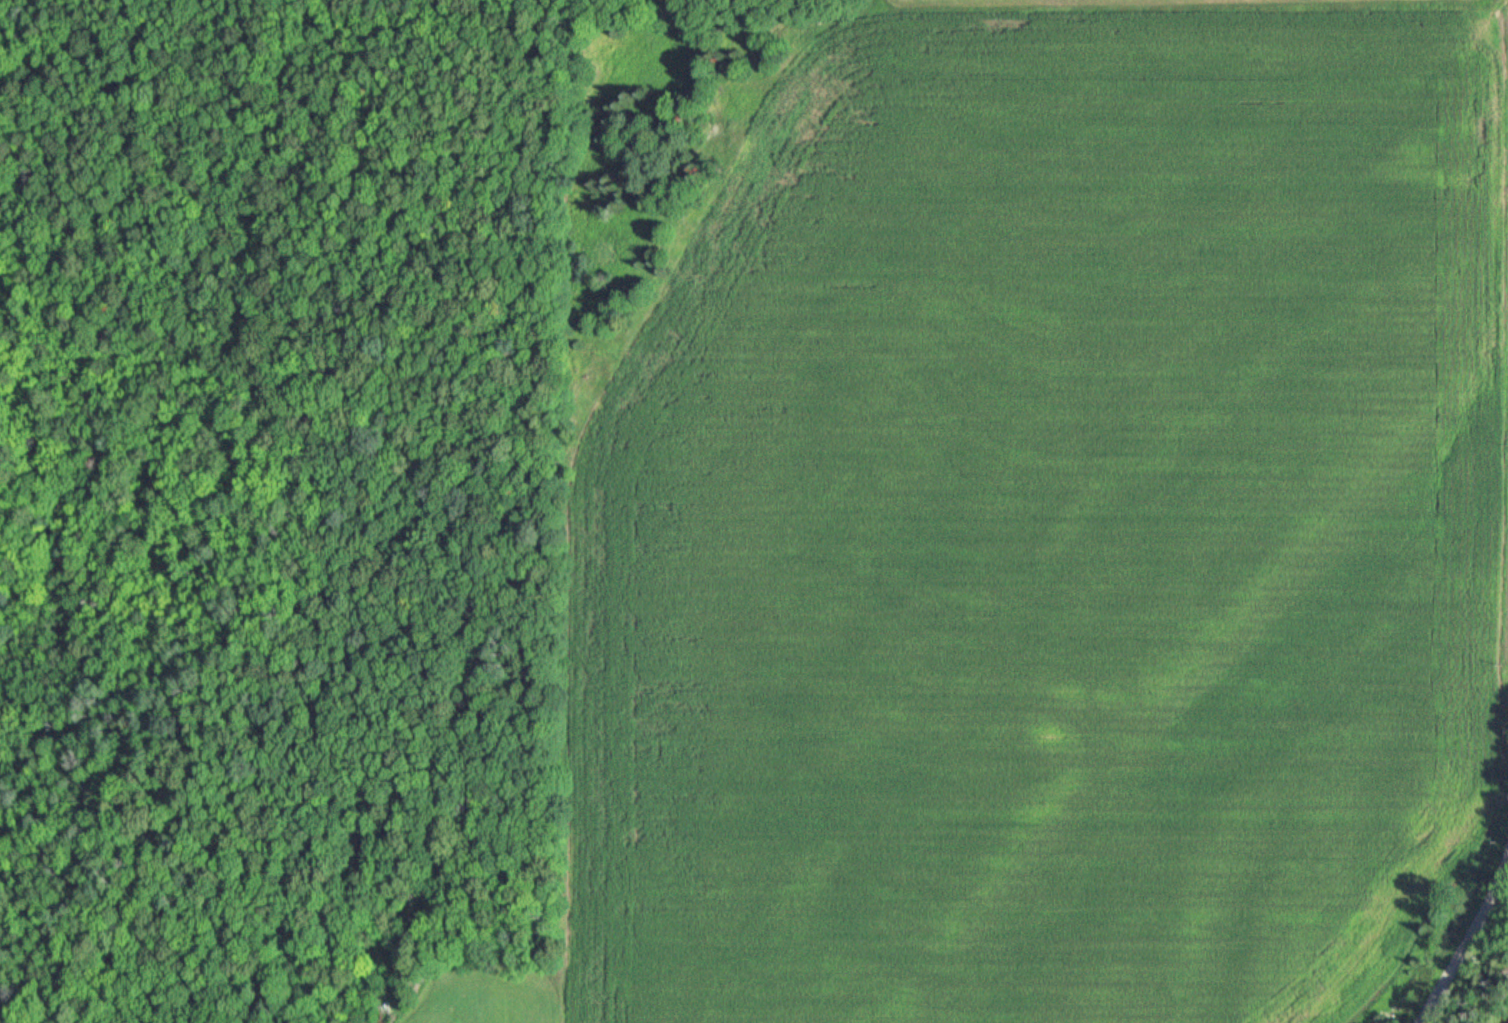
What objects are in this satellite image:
road: (1465, 938)

